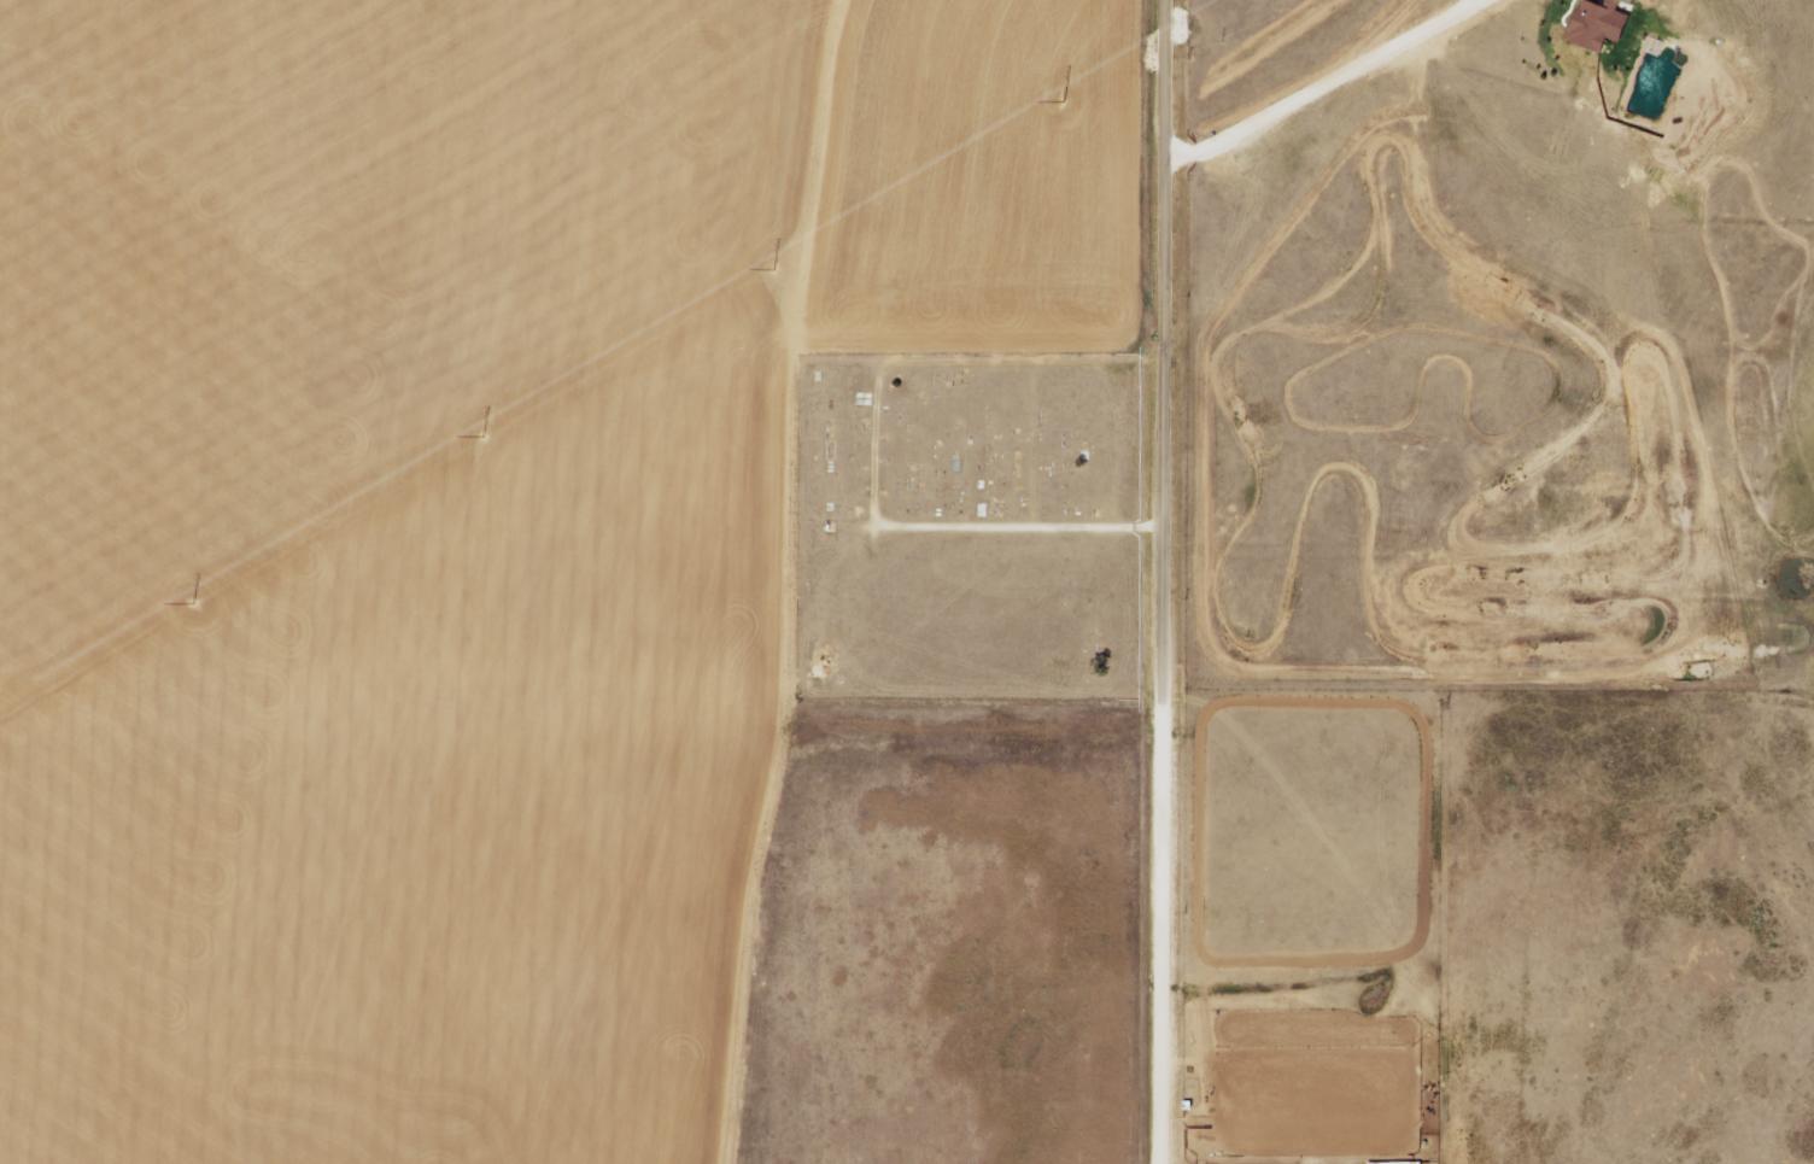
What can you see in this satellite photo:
building: (1638, 1)
power tower: (1201, 25)
power tower: (885, 201)
power tower: (575, 379)
park: (966, 527)
power tower: (274, 560)
road: (1165, 581)

